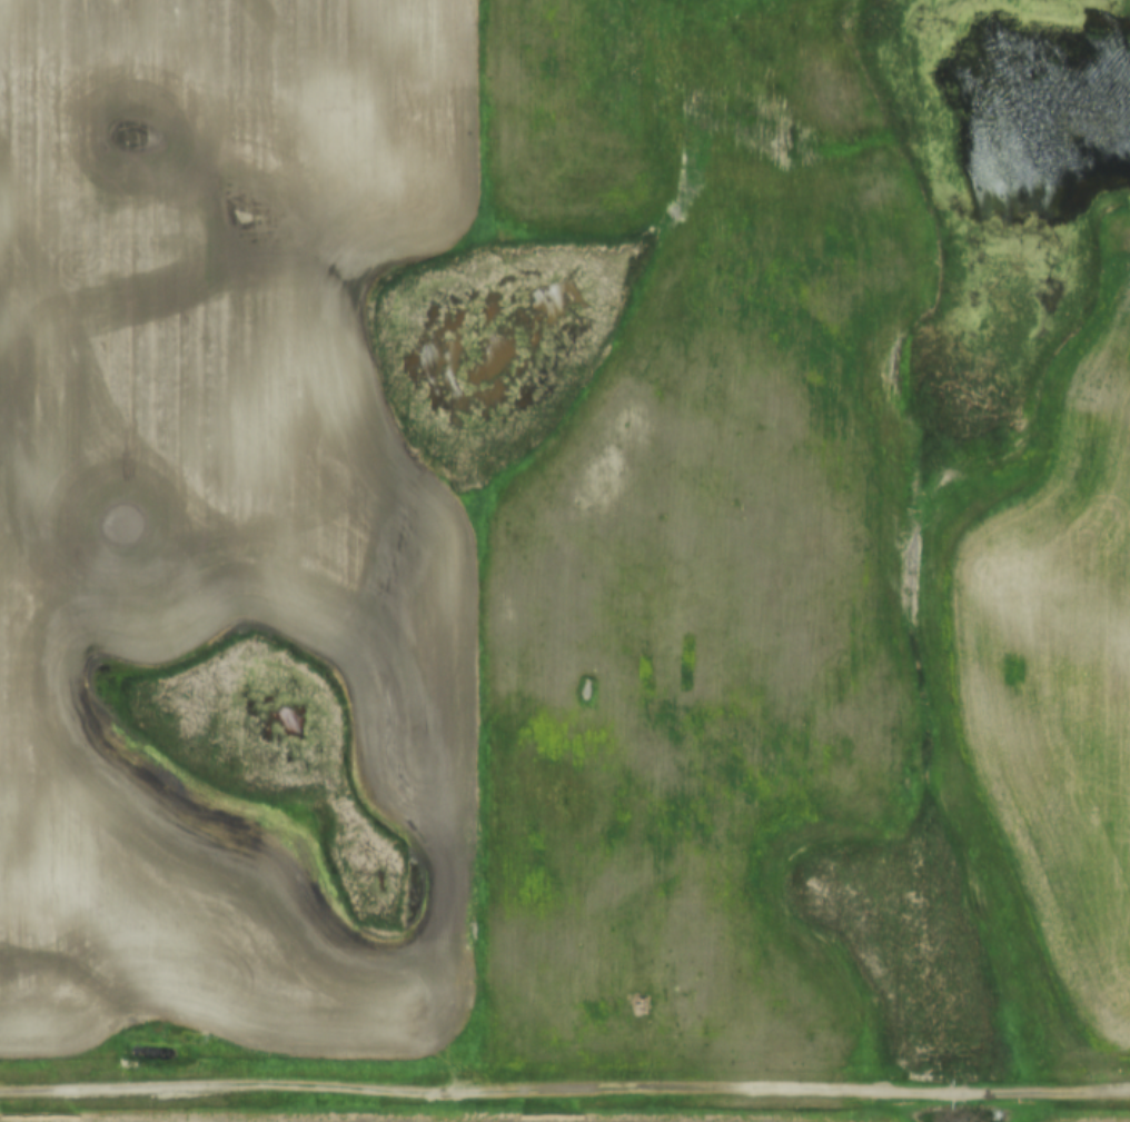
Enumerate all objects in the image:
road: (565, 1089)

